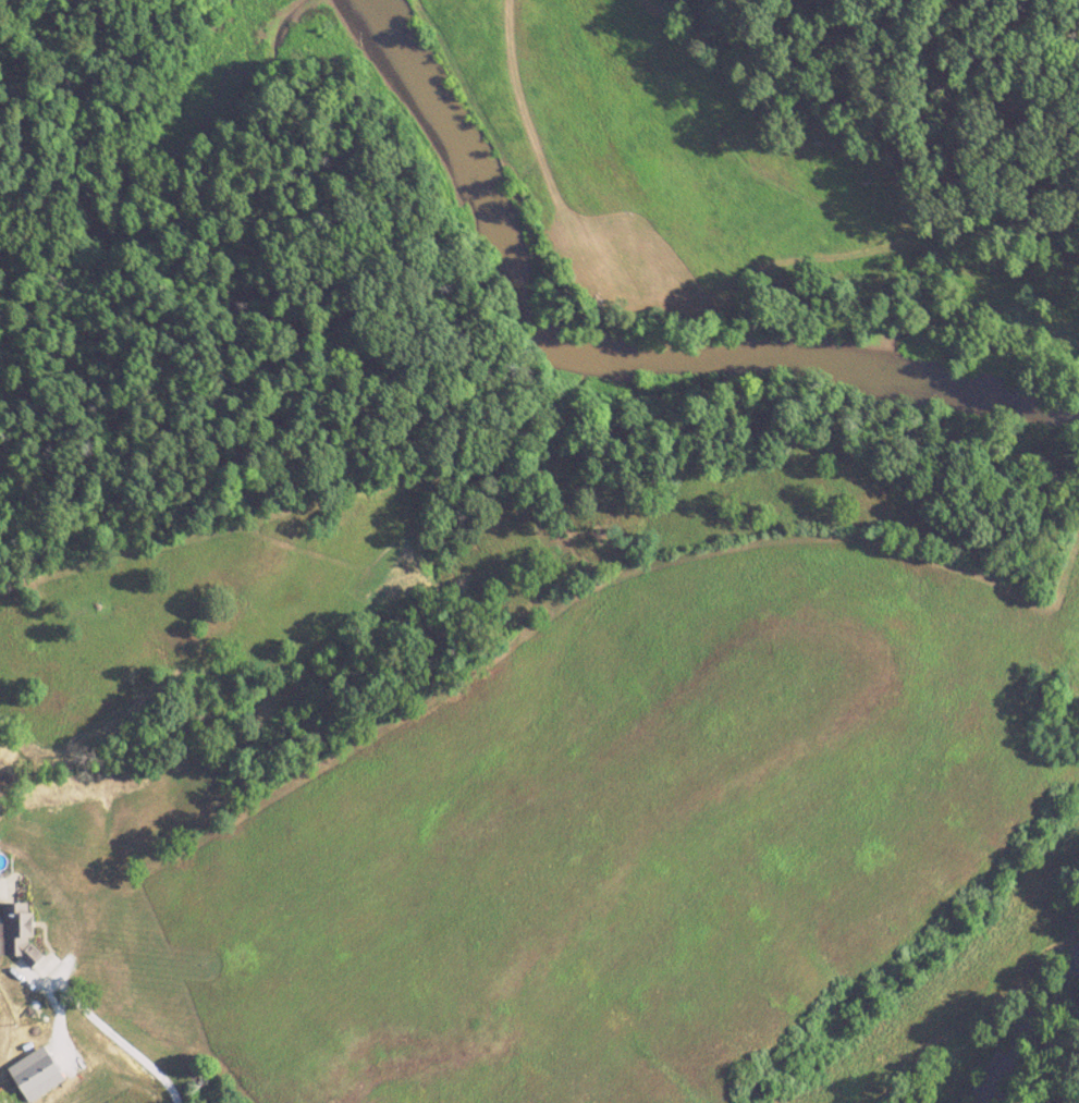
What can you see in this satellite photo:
river: (630, 357)
building: (19, 931)
road: (119, 1043)
river: (1039, 1065)

